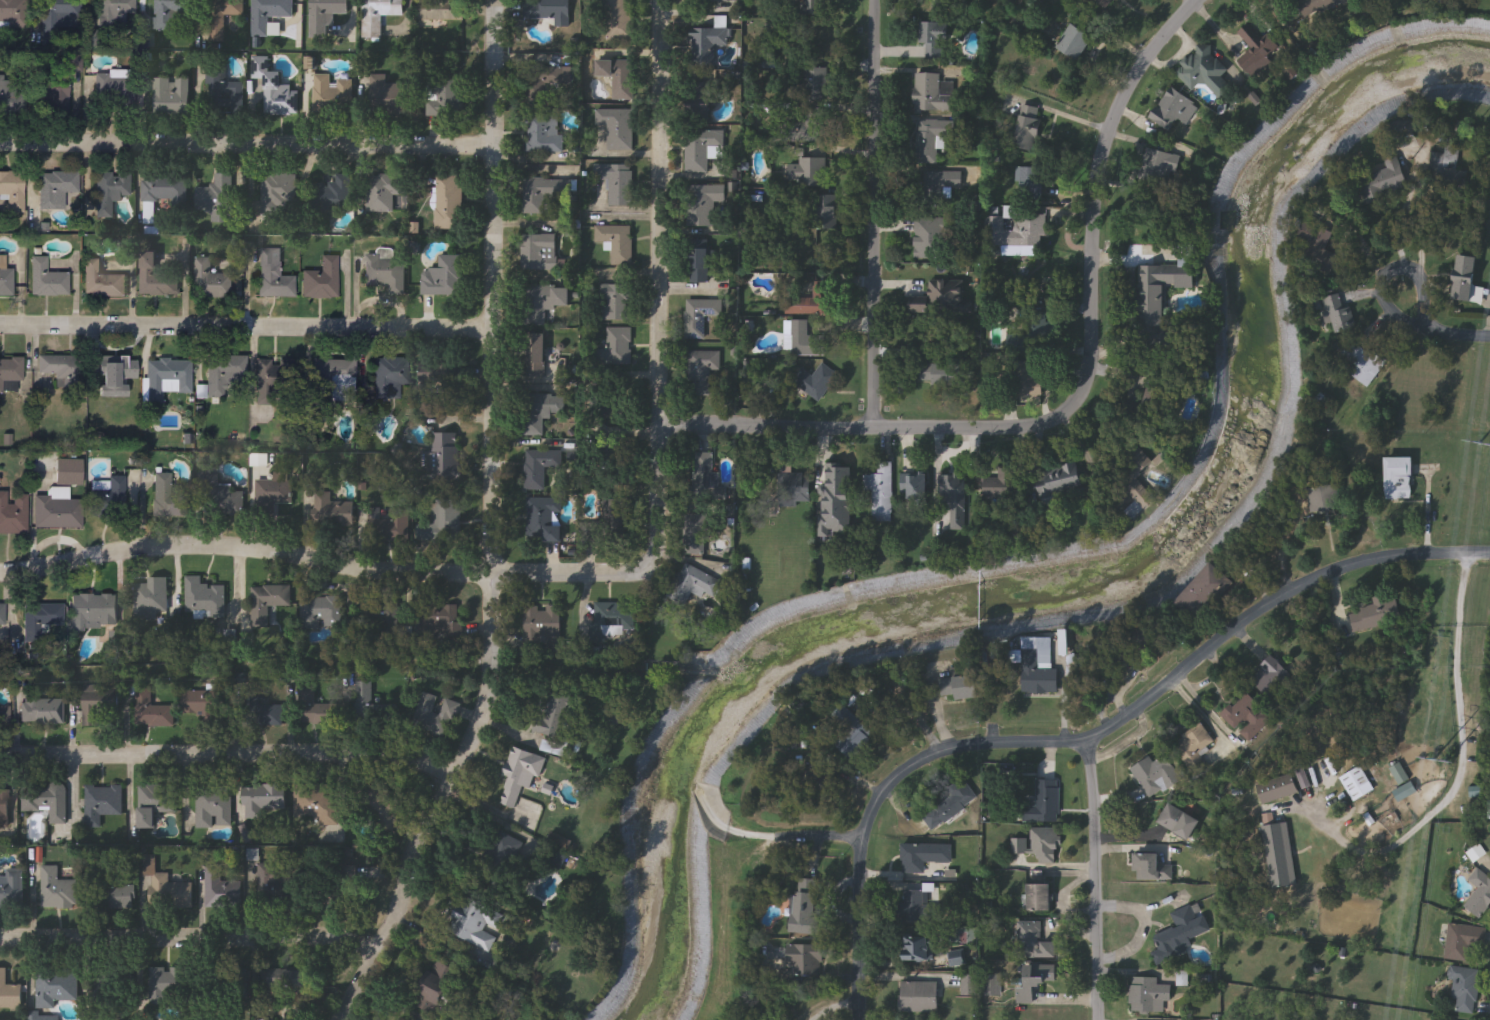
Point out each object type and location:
road: (1195, 0)
building: (710, 1)
building: (1105, 3)
building: (815, 6)
building: (1319, 7)
building: (440, 11)
building: (549, 11)
building: (13, 12)
building: (114, 13)
building: (229, 13)
building: (60, 16)
building: (169, 16)
building: (378, 16)
building: (325, 17)
building: (270, 18)
building: (619, 21)
building: (933, 38)
building: (1074, 40)
building: (707, 46)
building: (1259, 51)
building: (1206, 71)
building: (619, 79)
building: (548, 85)
building: (812, 85)
building: (274, 90)
building: (933, 91)
building: (223, 93)
building: (9, 95)
building: (54, 95)
building: (111, 95)
building: (703, 95)
building: (332, 96)
building: (170, 97)
building: (387, 98)
building: (445, 98)
building: (1175, 108)
building: (808, 126)
building: (1028, 127)
building: (617, 128)
building: (543, 133)
building: (932, 136)
building: (702, 149)
road: (247, 150)
building: (1446, 161)
building: (1159, 165)
building: (807, 171)
building: (1027, 179)
building: (1385, 180)
building: (618, 186)
building: (940, 186)
building: (164, 188)
building: (12, 190)
building: (58, 191)
building: (111, 192)
building: (383, 193)
building: (542, 193)
building: (277, 194)
building: (332, 195)
building: (216, 199)
building: (448, 203)
building: (702, 205)
road: (1421, 208)
building: (826, 211)
road: (873, 223)
building: (1018, 230)
road: (1351, 230)
building: (930, 238)
building: (616, 244)
building: (538, 253)
building: (1321, 259)
building: (699, 263)
building: (274, 273)
building: (385, 274)
building: (1466, 277)
building: (5, 278)
building: (156, 278)
building: (444, 278)
road: (651, 279)
building: (47, 280)
building: (322, 280)
building: (209, 281)
building: (101, 282)
building: (1163, 293)
building: (943, 298)
road: (1391, 301)
building: (546, 302)
building: (615, 303)
building: (806, 304)
road: (1426, 309)
building: (1339, 313)
building: (700, 317)
road: (245, 334)
building: (1029, 334)
road: (1468, 338)
building: (807, 340)
road: (1078, 347)
building: (615, 349)
building: (535, 356)
building: (1360, 363)
building: (55, 366)
building: (770, 369)
building: (10, 371)
building: (702, 373)
building: (225, 375)
building: (334, 375)
building: (944, 375)
building: (439, 377)
building: (390, 378)
building: (167, 380)
building: (273, 381)
building: (816, 381)
building: (1028, 382)
building: (1160, 401)
building: (539, 413)
building: (613, 435)
road: (706, 445)
power tower: (1488, 445)
building: (443, 458)
building: (539, 467)
building: (69, 473)
building: (1136, 474)
building: (705, 476)
building: (1401, 478)
building: (1057, 483)
building: (1003, 485)
building: (916, 486)
building: (794, 487)
building: (954, 489)
building: (881, 492)
building: (273, 495)
building: (108, 496)
building: (168, 498)
building: (837, 498)
building: (1324, 498)
building: (222, 500)
building: (1133, 512)
building: (14, 513)
building: (57, 513)
building: (336, 513)
building: (543, 519)
building: (616, 522)
building: (441, 523)
road: (505, 525)
building: (388, 527)
building: (697, 535)
road: (328, 555)
building: (693, 585)
building: (1205, 591)
building: (203, 598)
building: (151, 599)
building: (266, 604)
road: (1272, 605)
building: (93, 612)
building: (323, 612)
building: (380, 613)
building: (2, 615)
building: (1377, 616)
building: (42, 618)
building: (441, 621)
building: (542, 628)
building: (1038, 665)
building: (1272, 678)
building: (961, 688)
building: (364, 703)
building: (201, 704)
building: (41, 709)
building: (317, 711)
building: (152, 712)
building: (100, 713)
building: (392, 715)
building: (263, 716)
building: (433, 716)
building: (1249, 716)
building: (4, 717)
building: (557, 725)
building: (1200, 749)
road: (1460, 751)
road: (230, 757)
power tower: (1440, 762)
building: (1400, 774)
building: (1158, 775)
building: (519, 777)
building: (1358, 784)
building: (1279, 789)
building: (960, 792)
building: (1404, 792)
building: (1475, 792)
road: (881, 798)
building: (262, 800)
building: (45, 802)
building: (1044, 802)
building: (153, 804)
building: (376, 804)
building: (101, 805)
building: (314, 805)
building: (213, 808)
building: (4, 810)
building: (1489, 810)
building: (1182, 822)
building: (1039, 844)
building: (505, 855)
building: (923, 855)
building: (1280, 855)
building: (1151, 867)
road: (1097, 880)
building: (265, 887)
building: (11, 890)
building: (56, 890)
building: (219, 890)
building: (111, 892)
building: (1478, 893)
building: (171, 895)
building: (1040, 897)
building: (917, 902)
building: (806, 908)
building: (475, 924)
road: (1148, 927)
building: (1180, 933)
road: (188, 940)
building: (1034, 941)
building: (1462, 942)
building: (919, 948)
building: (806, 959)
building: (289, 979)
building: (1034, 980)
building: (164, 984)
building: (54, 987)
building: (435, 987)
building: (1464, 988)
building: (1149, 994)
building: (9, 995)
building: (919, 996)
building: (401, 1019)

